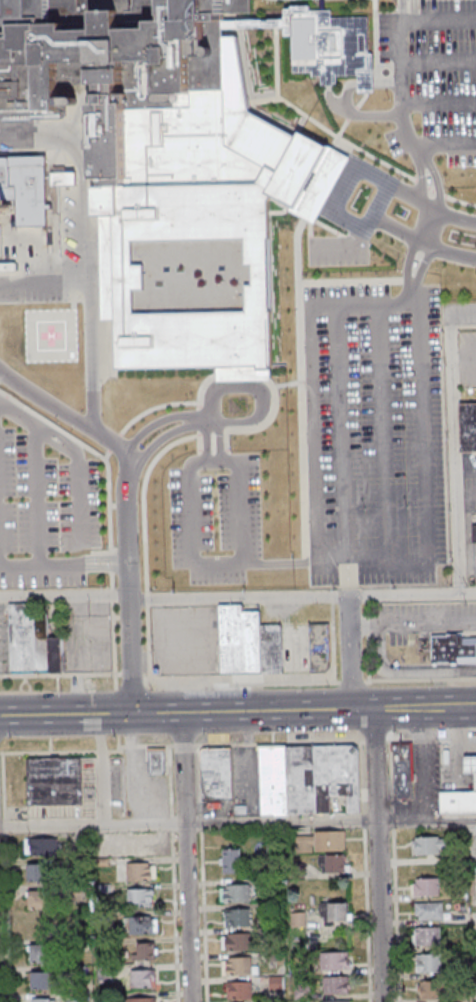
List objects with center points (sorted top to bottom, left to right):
road: (405, 21)
road: (436, 62)
road: (397, 76)
parking lot: (431, 79)
road: (365, 84)
road: (386, 84)
road: (437, 104)
road: (355, 115)
road: (415, 151)
building: (182, 162)
road: (374, 177)
building: (31, 188)
road: (374, 207)
building: (1, 212)
road: (426, 226)
road: (415, 240)
road: (339, 244)
parking lot: (336, 250)
road: (470, 258)
road: (43, 281)
road: (87, 302)
road: (409, 303)
road: (382, 306)
road: (461, 315)
helipad: (51, 337)
road: (255, 389)
road: (198, 401)
road: (202, 419)
road: (210, 419)
road: (255, 426)
building: (466, 428)
road: (339, 432)
parking lot: (372, 433)
road: (380, 434)
road: (111, 442)
road: (198, 442)
road: (92, 451)
road: (130, 452)
road: (452, 455)
road: (74, 456)
road: (199, 456)
road: (226, 456)
parking lot: (469, 483)
road: (142, 496)
road: (35, 497)
parking lot: (43, 504)
parking lot: (213, 518)
building: (472, 535)
road: (107, 559)
road: (110, 563)
road: (224, 563)
road: (37, 566)
road: (110, 578)
road: (125, 586)
road: (111, 594)
road: (146, 595)
road: (237, 598)
road: (411, 623)
building: (202, 631)
building: (21, 638)
road: (113, 638)
road: (148, 638)
building: (242, 641)
building: (41, 642)
building: (323, 647)
building: (457, 647)
building: (276, 649)
building: (56, 654)
road: (347, 654)
road: (405, 671)
road: (232, 682)
road: (468, 709)
road: (230, 713)
traffic signals: (132, 714)
road: (431, 741)
road: (3, 754)
building: (156, 760)
building: (471, 763)
building: (403, 770)
building: (216, 773)
building: (308, 777)
building: (54, 780)
road: (7, 792)
building: (459, 801)
road: (237, 821)
building: (330, 840)
building: (135, 844)
building: (429, 844)
building: (42, 847)
road: (185, 857)
road: (380, 857)
building: (230, 861)
building: (333, 863)
building: (140, 871)
building: (40, 872)
building: (426, 886)
building: (237, 893)
building: (140, 897)
building: (41, 898)
building: (429, 909)
building: (335, 912)
building: (237, 917)
building: (143, 924)
building: (39, 928)
building: (427, 935)
building: (238, 941)
building: (146, 950)
building: (43, 953)
building: (335, 961)
building: (239, 965)
building: (429, 965)
building: (143, 978)
building: (44, 979)
building: (335, 986)
building: (239, 989)
building: (430, 991)
building: (143, 999)
building: (44, 1000)
building: (335, 1001)

